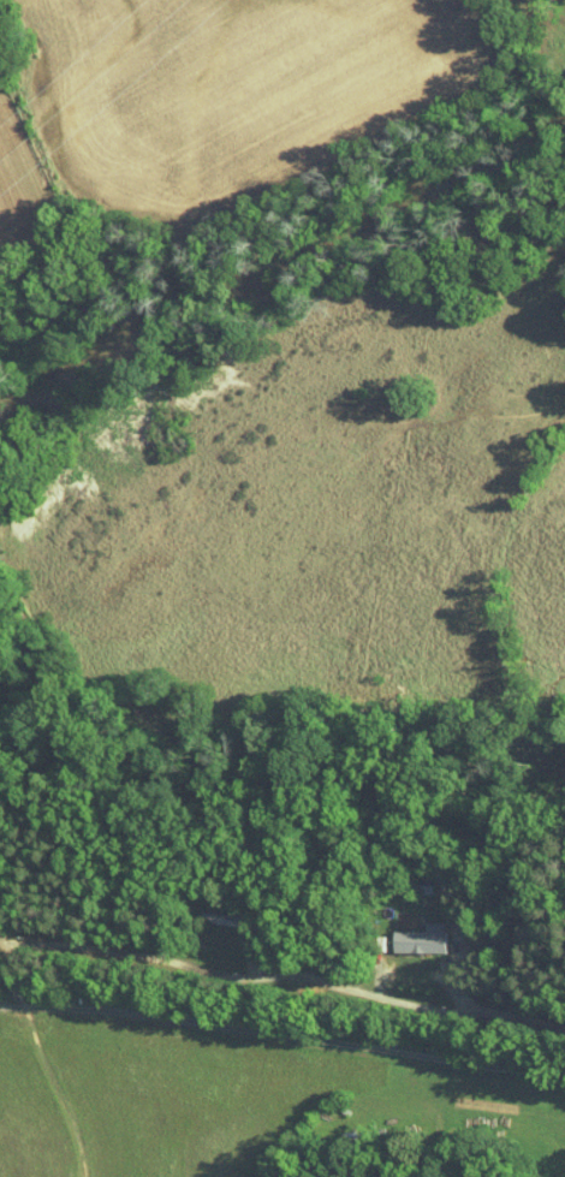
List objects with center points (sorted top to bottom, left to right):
building: (420, 939)
road: (282, 976)

